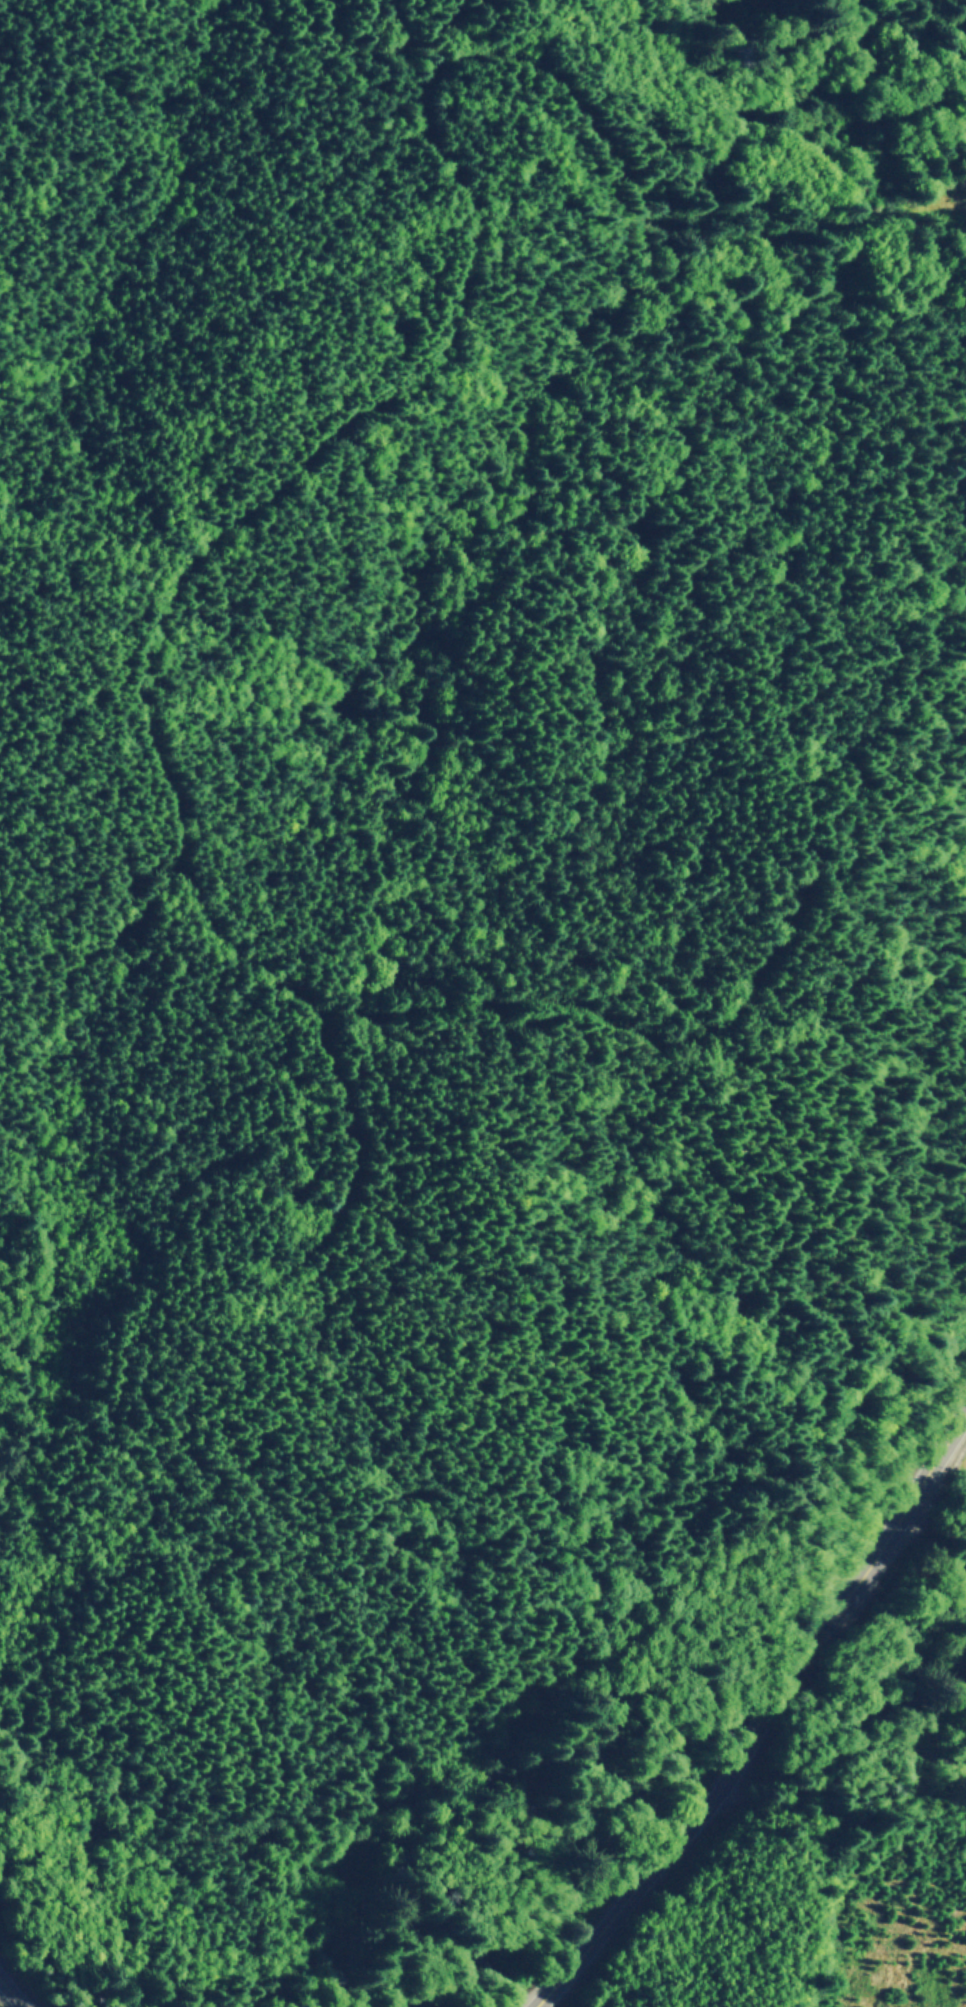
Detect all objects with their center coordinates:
road: (348, 425)
road: (774, 1735)
road: (12, 1992)

